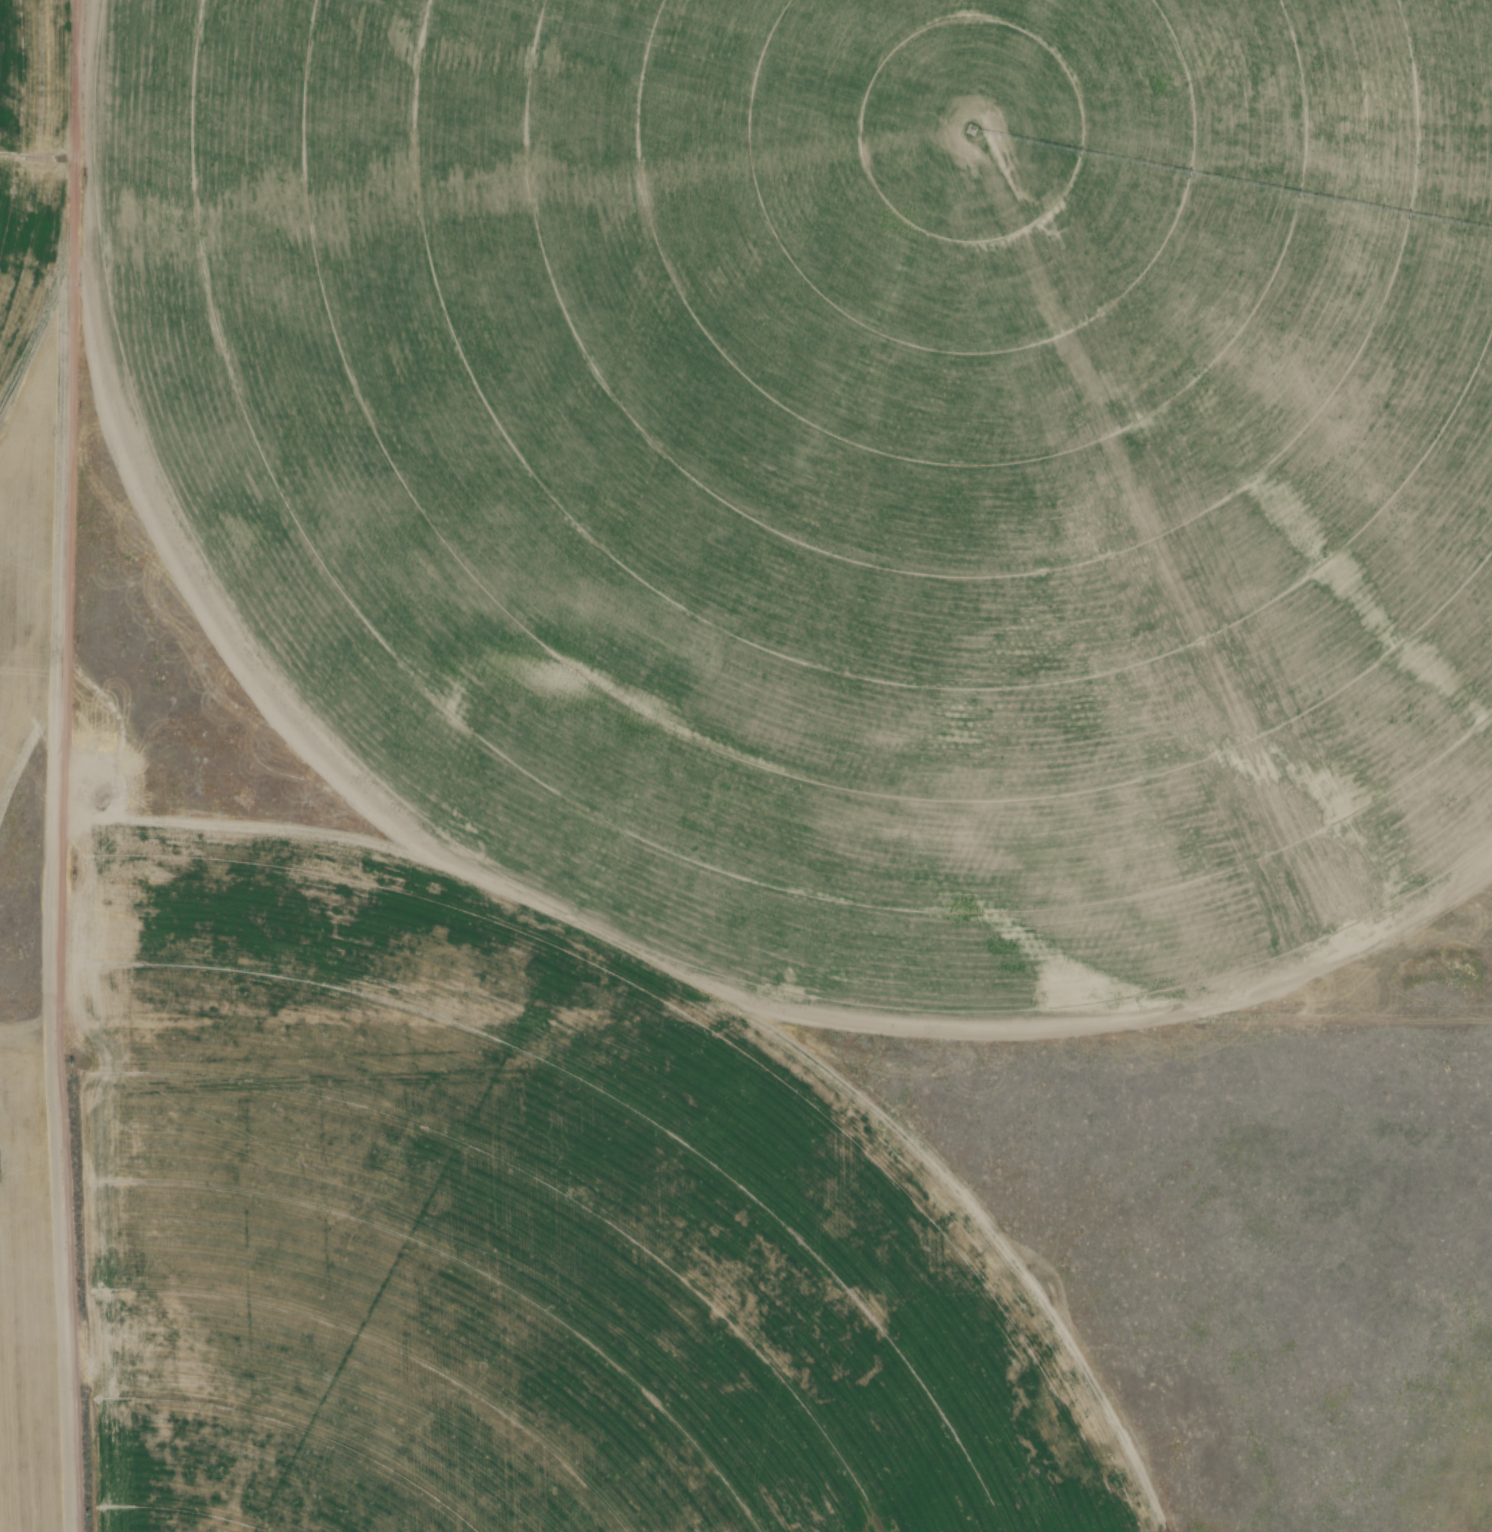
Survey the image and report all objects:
road: (526, 1018)

